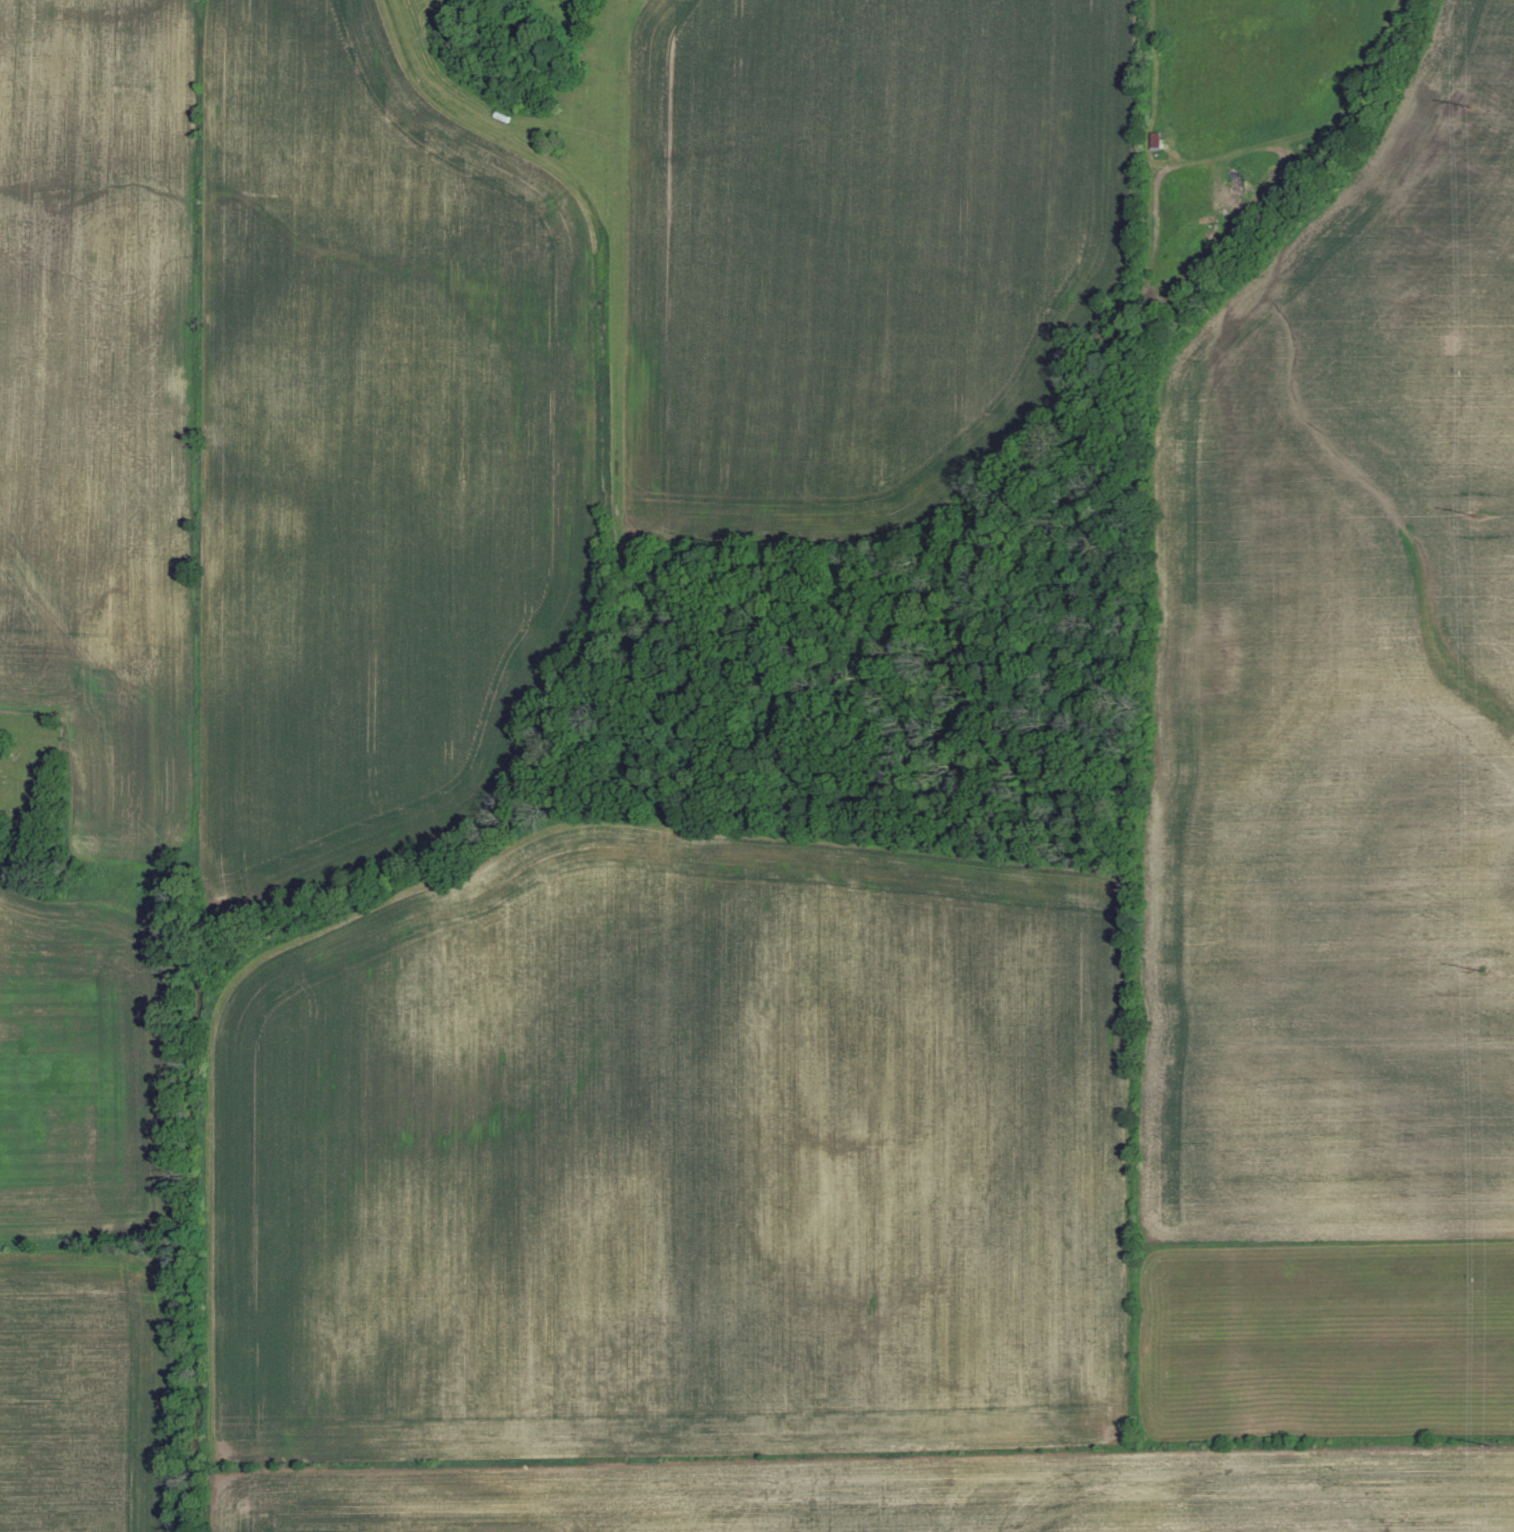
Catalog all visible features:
power tower: (1471, 104)
crop: (861, 247)
crop: (99, 296)
crop: (384, 443)
power tower: (1476, 514)
crop: (1341, 690)
crop: (117, 740)
park: (32, 794)
power tower: (1483, 968)
crop: (91, 1069)
crop: (670, 1152)
crop: (1329, 1344)
crop: (92, 1385)
power tower: (1491, 1445)
crop: (878, 1493)

